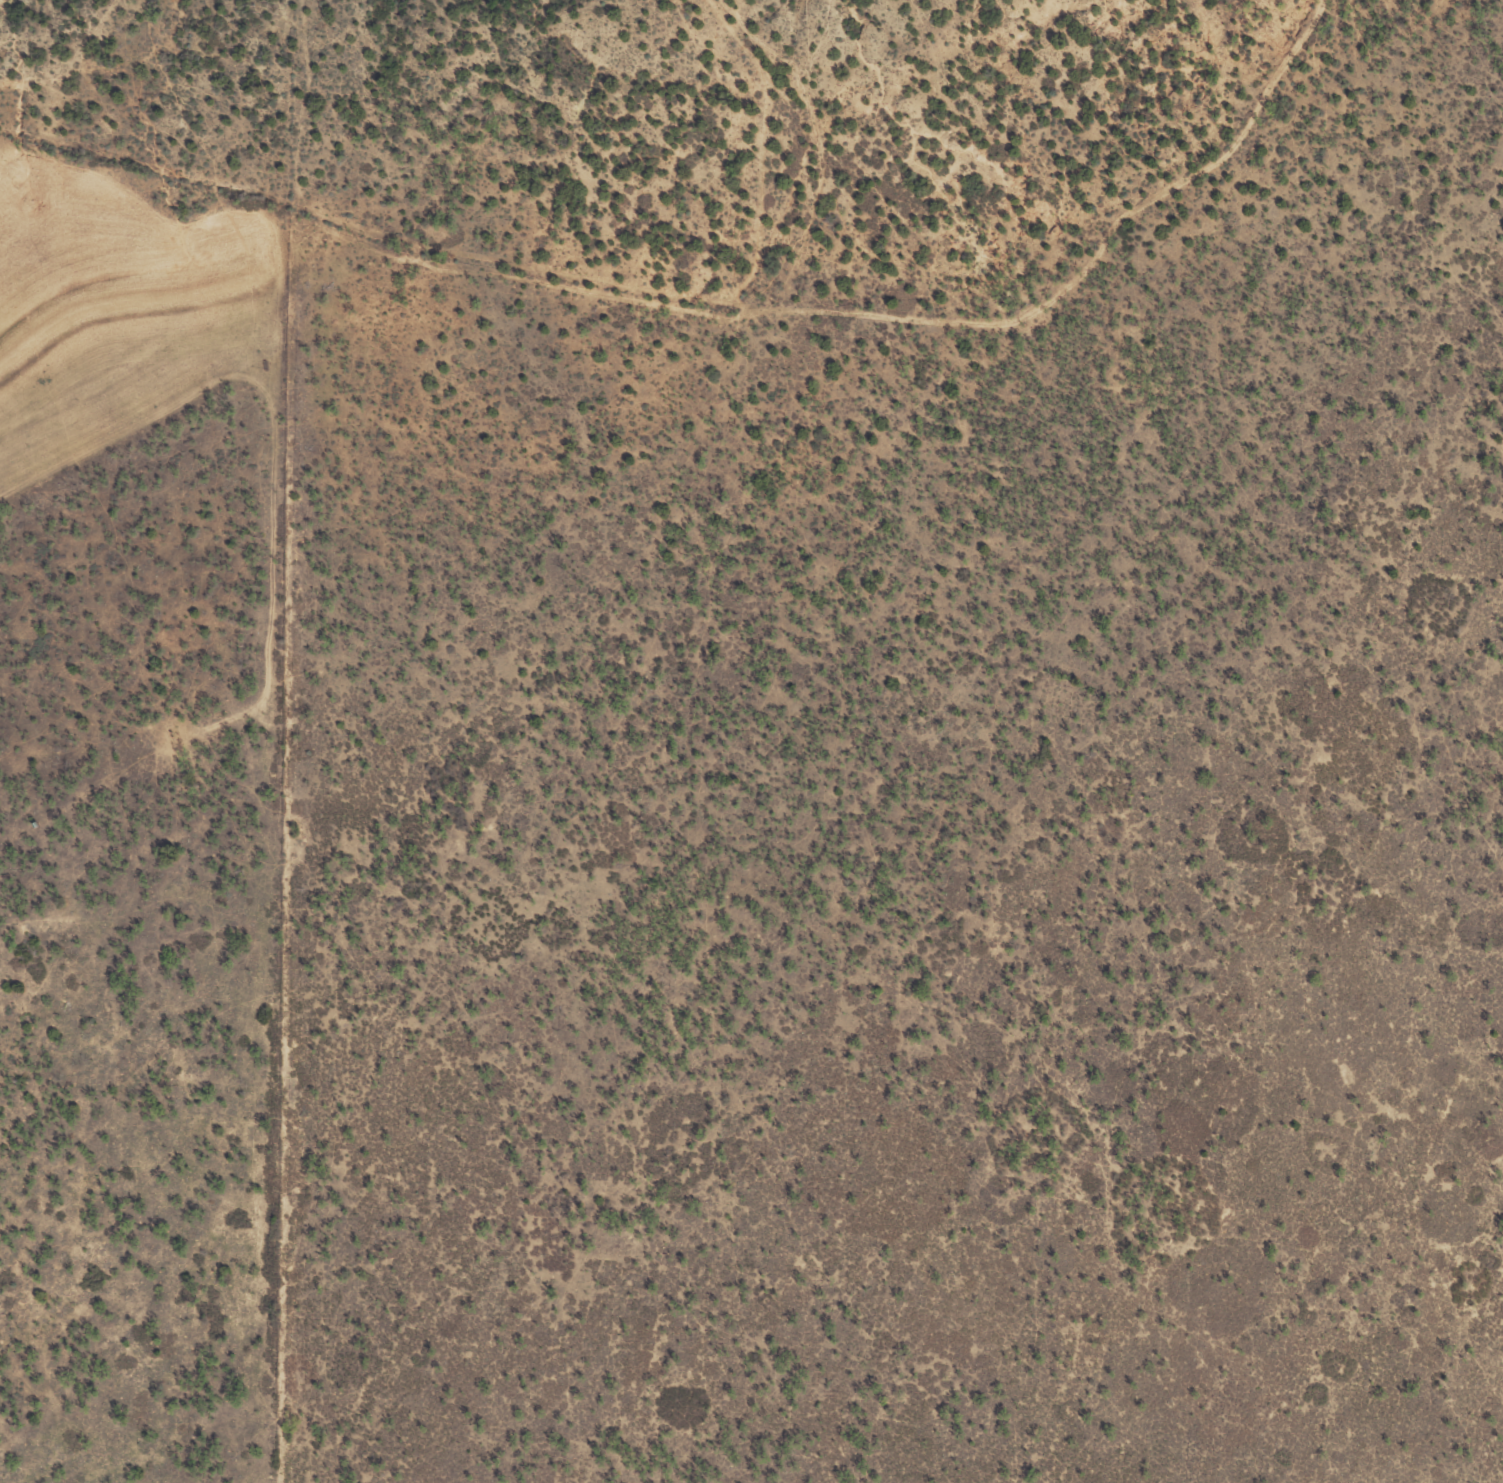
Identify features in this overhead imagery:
road: (718, 295)

